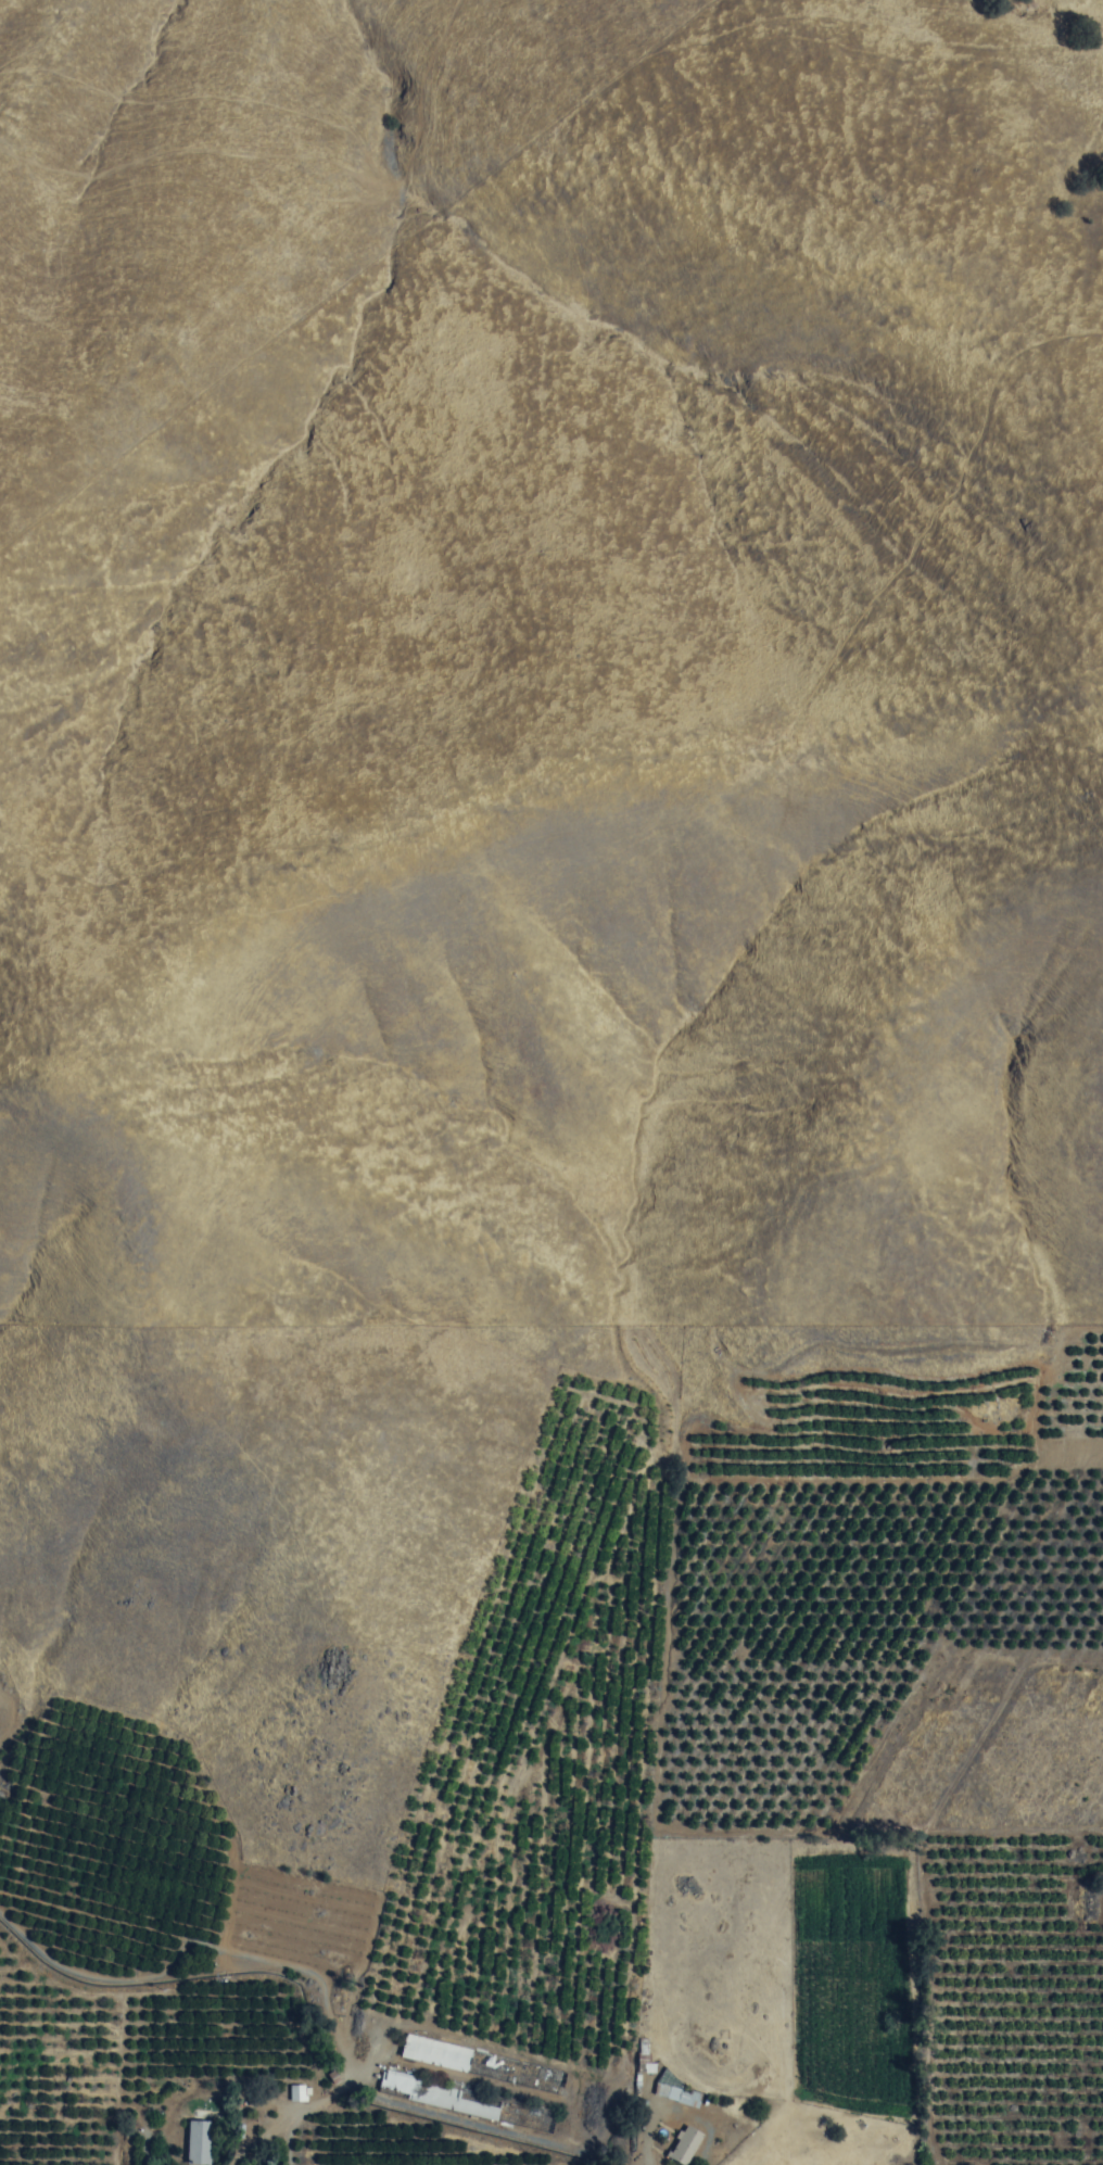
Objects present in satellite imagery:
crop: (630, 1826)
building: (646, 2068)
building: (440, 2096)
building: (199, 2142)
building: (685, 2145)

